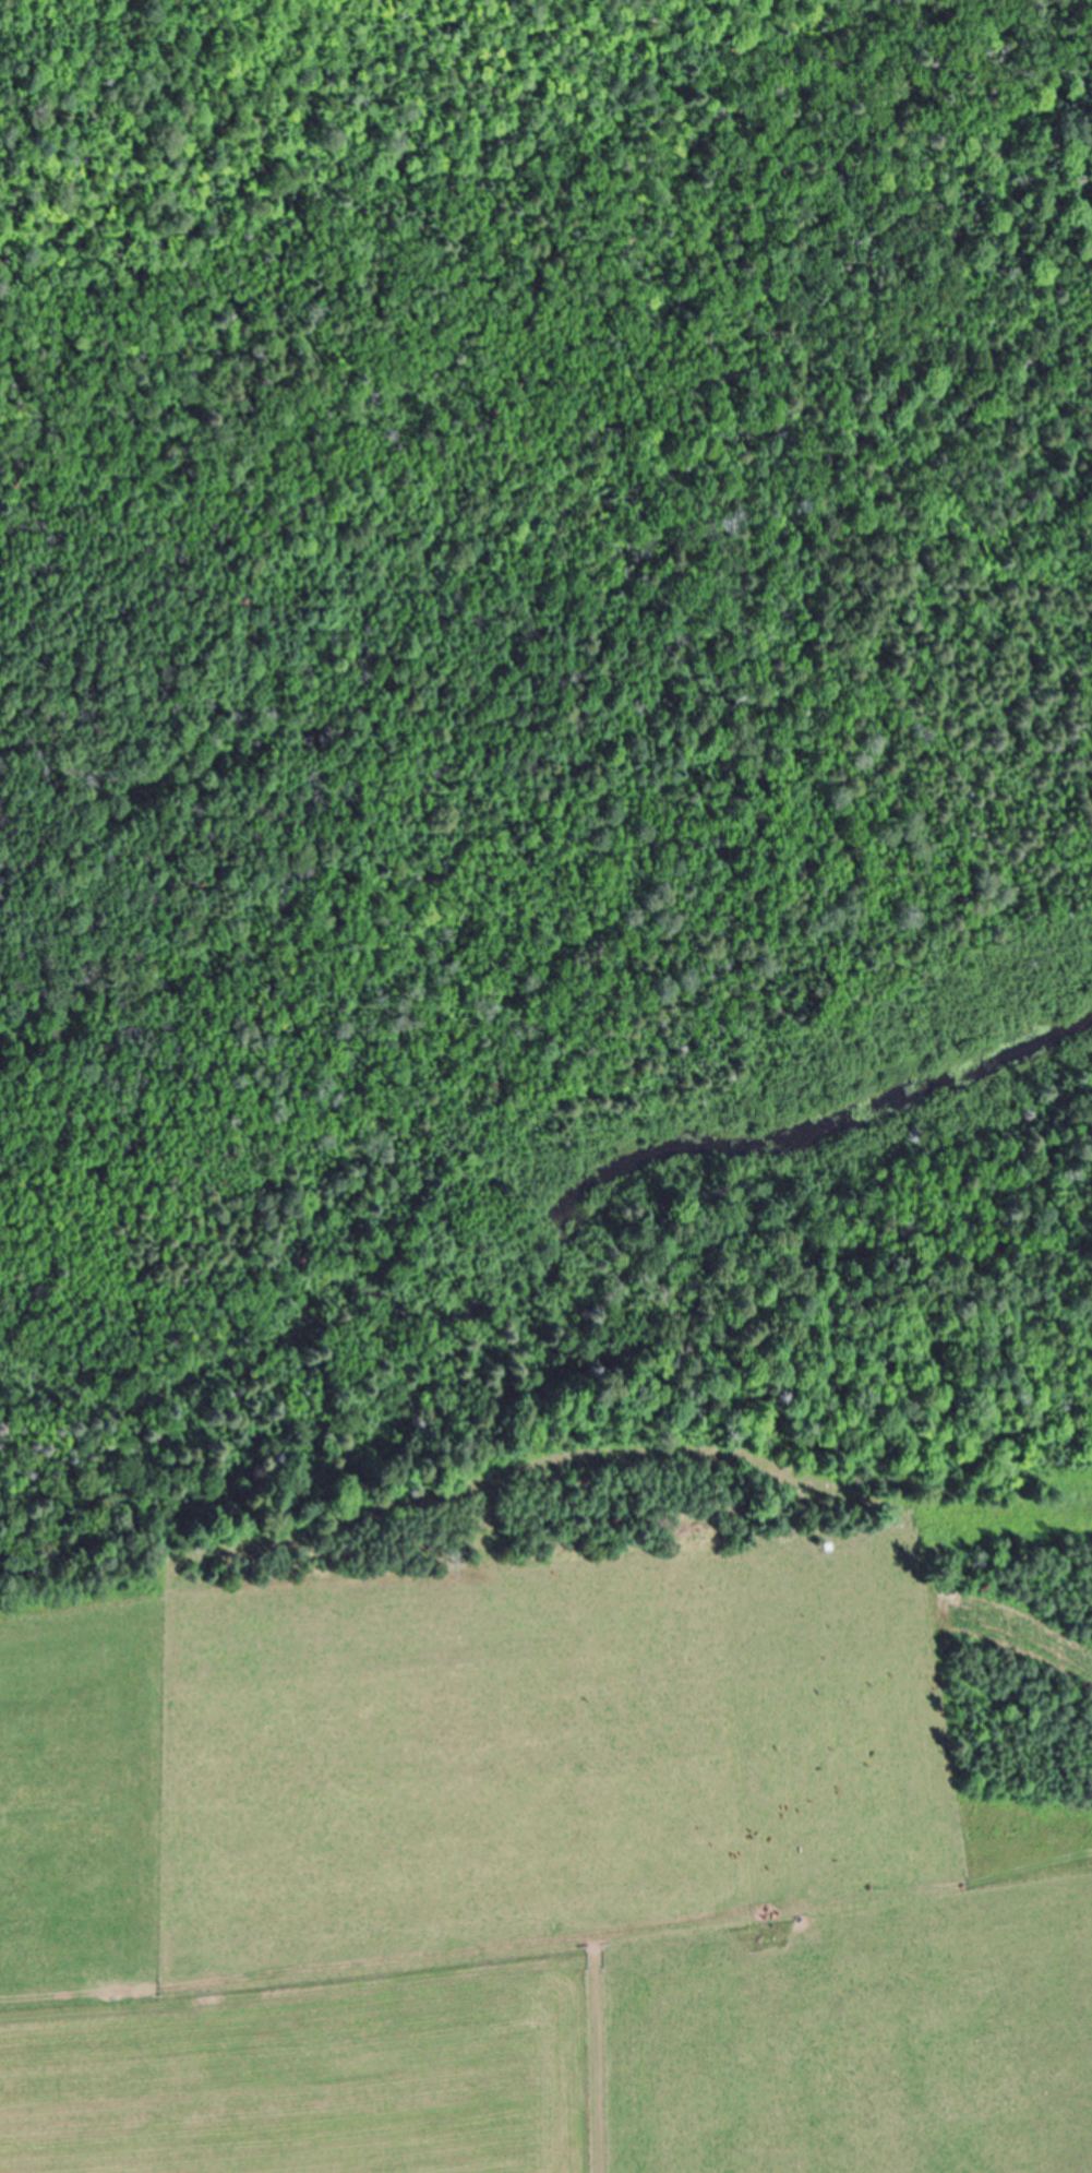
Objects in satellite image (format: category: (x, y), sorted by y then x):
road: (470, 1969)

